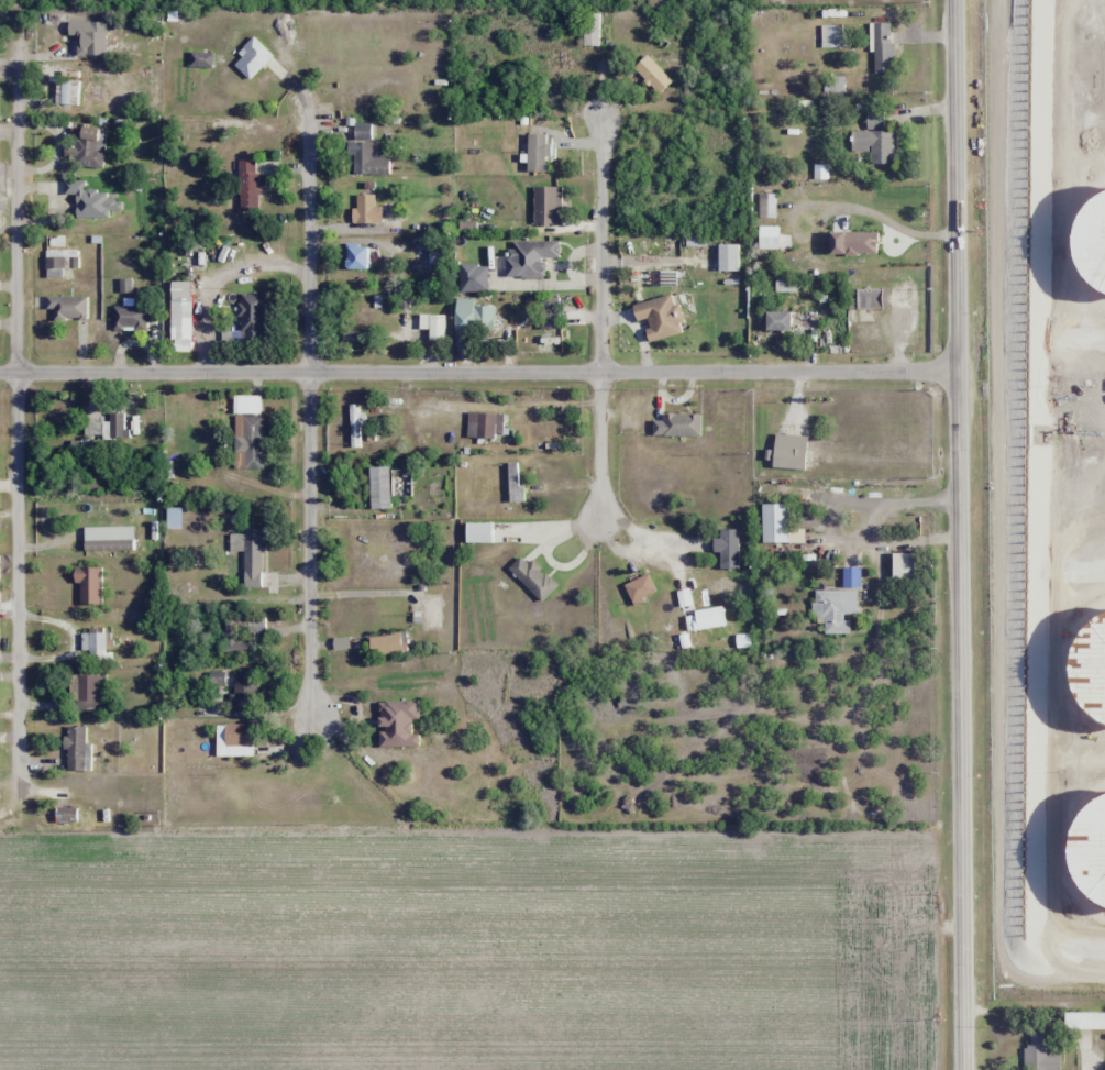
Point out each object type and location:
building: (53, 20)
building: (589, 30)
building: (88, 31)
building: (832, 35)
building: (881, 48)
building: (200, 59)
building: (651, 74)
building: (832, 85)
building: (64, 88)
building: (199, 92)
building: (873, 140)
building: (90, 148)
building: (365, 153)
building: (247, 186)
building: (89, 200)
building: (545, 206)
building: (366, 210)
building: (695, 241)
building: (529, 256)
building: (727, 257)
building: (355, 258)
building: (60, 263)
building: (662, 275)
building: (870, 299)
building: (66, 308)
building: (548, 313)
building: (179, 317)
building: (472, 317)
building: (132, 318)
building: (251, 319)
road: (601, 321)
building: (776, 321)
building: (365, 322)
road: (479, 372)
road: (312, 406)
building: (252, 408)
building: (354, 426)
building: (676, 426)
building: (483, 427)
building: (108, 428)
road: (23, 430)
building: (513, 484)
building: (384, 487)
crop: (1045, 493)
building: (774, 523)
building: (485, 533)
road: (961, 534)
building: (727, 549)
building: (250, 554)
building: (900, 566)
building: (531, 577)
building: (639, 587)
building: (833, 610)
building: (434, 613)
building: (736, 620)
building: (240, 633)
building: (385, 646)
building: (93, 647)
building: (214, 680)
building: (82, 687)
building: (241, 692)
building: (233, 740)
building: (75, 749)
building: (65, 815)
building: (1084, 1019)
building: (1037, 1050)

